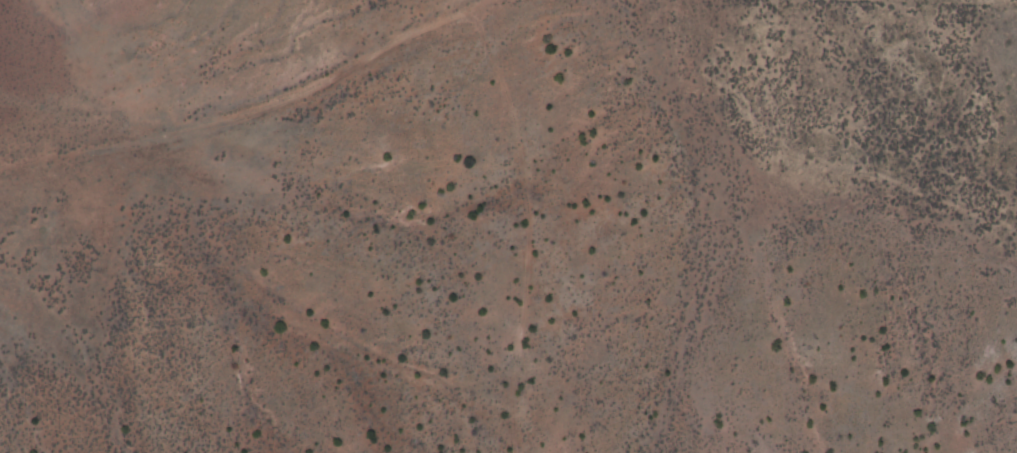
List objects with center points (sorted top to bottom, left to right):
road: (498, 41)
road: (487, 245)

